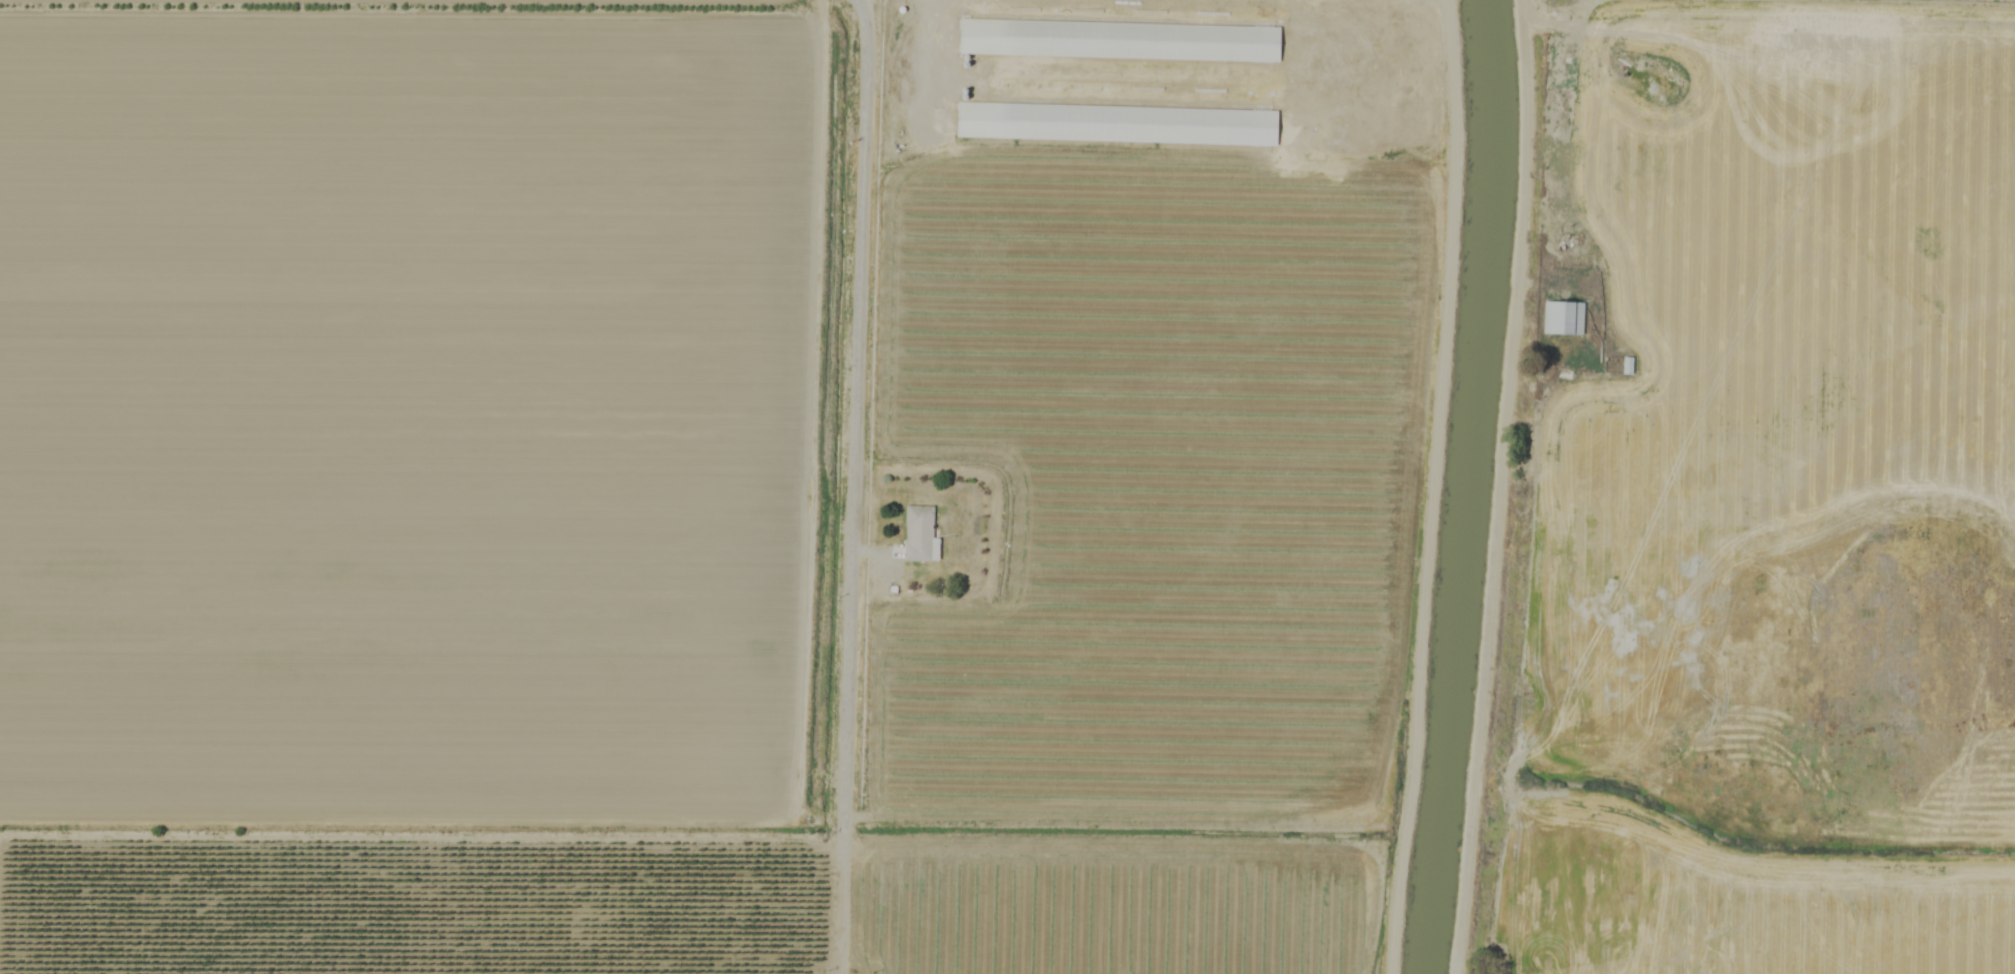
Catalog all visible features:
crop: (1878, 118)
building: (994, 120)
building: (1567, 317)
road: (855, 487)
road: (1501, 487)
crop: (712, 512)
building: (923, 534)

